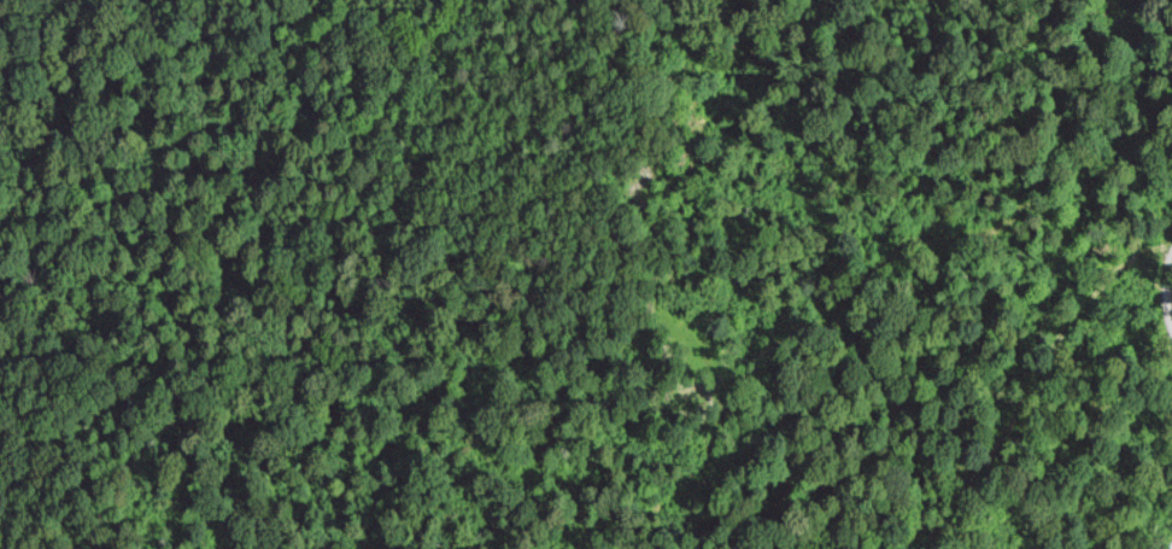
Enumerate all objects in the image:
road: (1150, 513)

